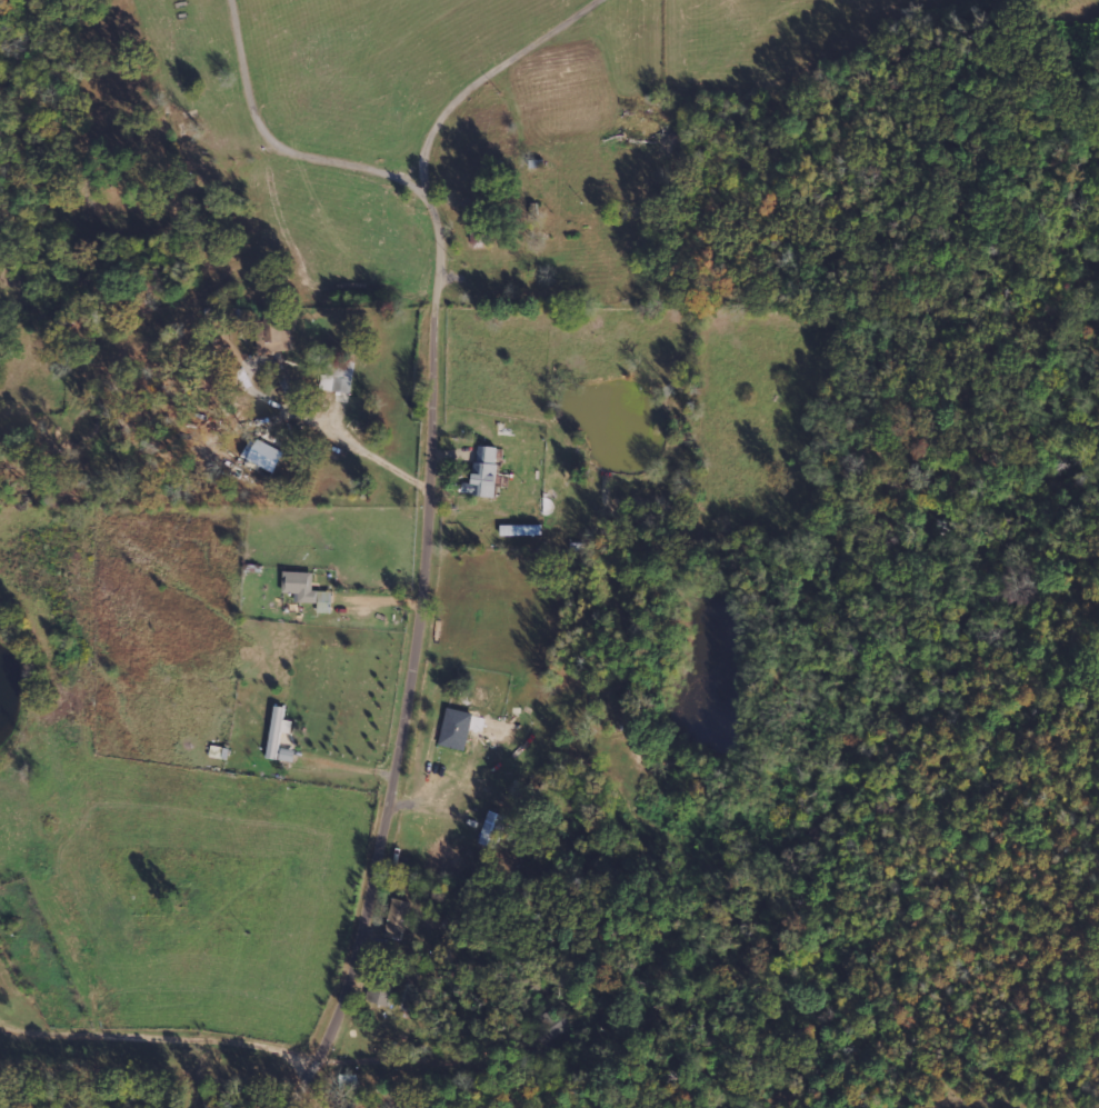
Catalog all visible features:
road: (490, 77)
road: (403, 177)
building: (272, 336)
building: (338, 378)
building: (266, 457)
building: (483, 473)
road: (432, 542)
building: (307, 591)
building: (456, 729)
building: (277, 730)
building: (218, 752)
building: (492, 829)
building: (397, 918)
road: (162, 1042)
road: (413, 1064)

